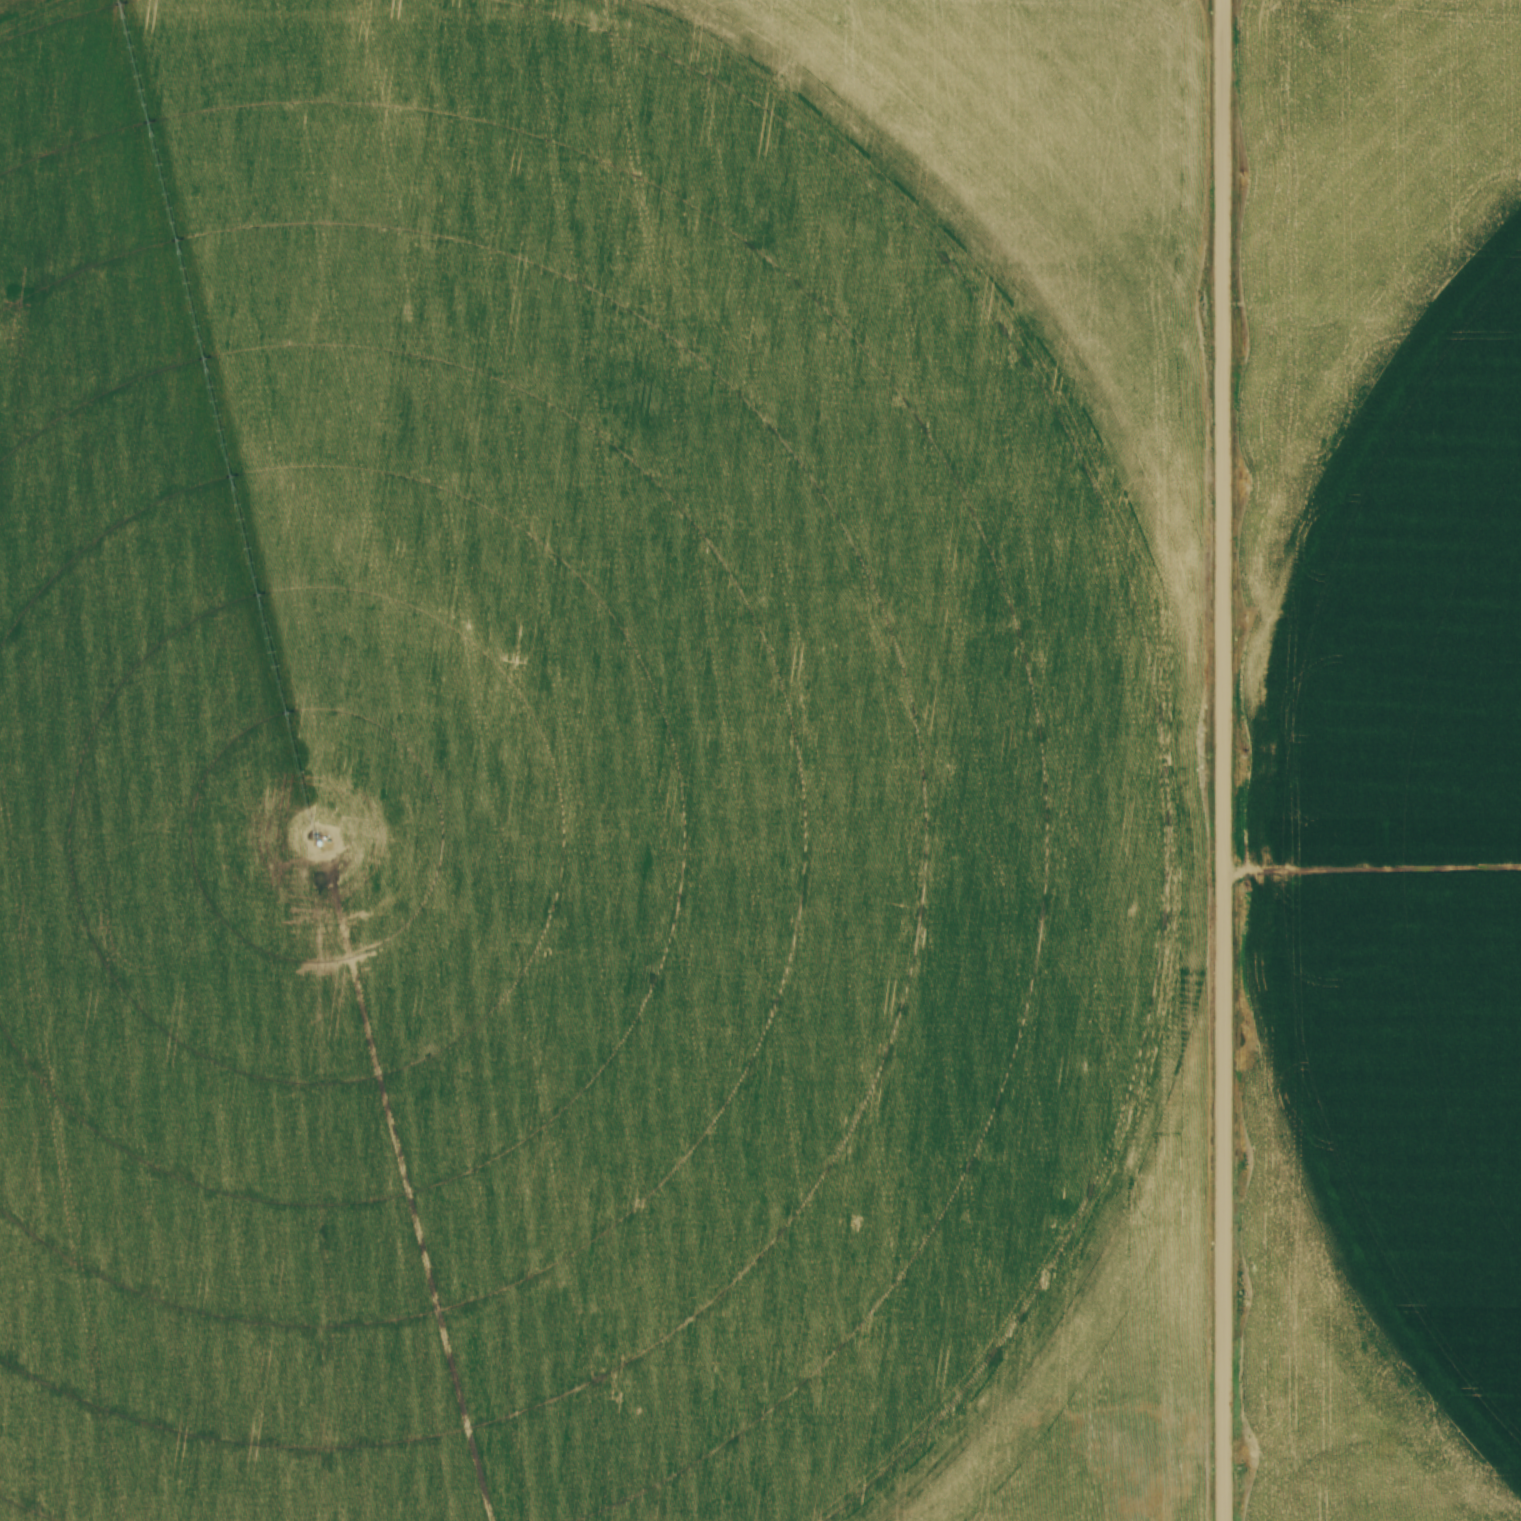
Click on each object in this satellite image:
crop: (1383, 756)
crop: (604, 760)
road: (1221, 760)

